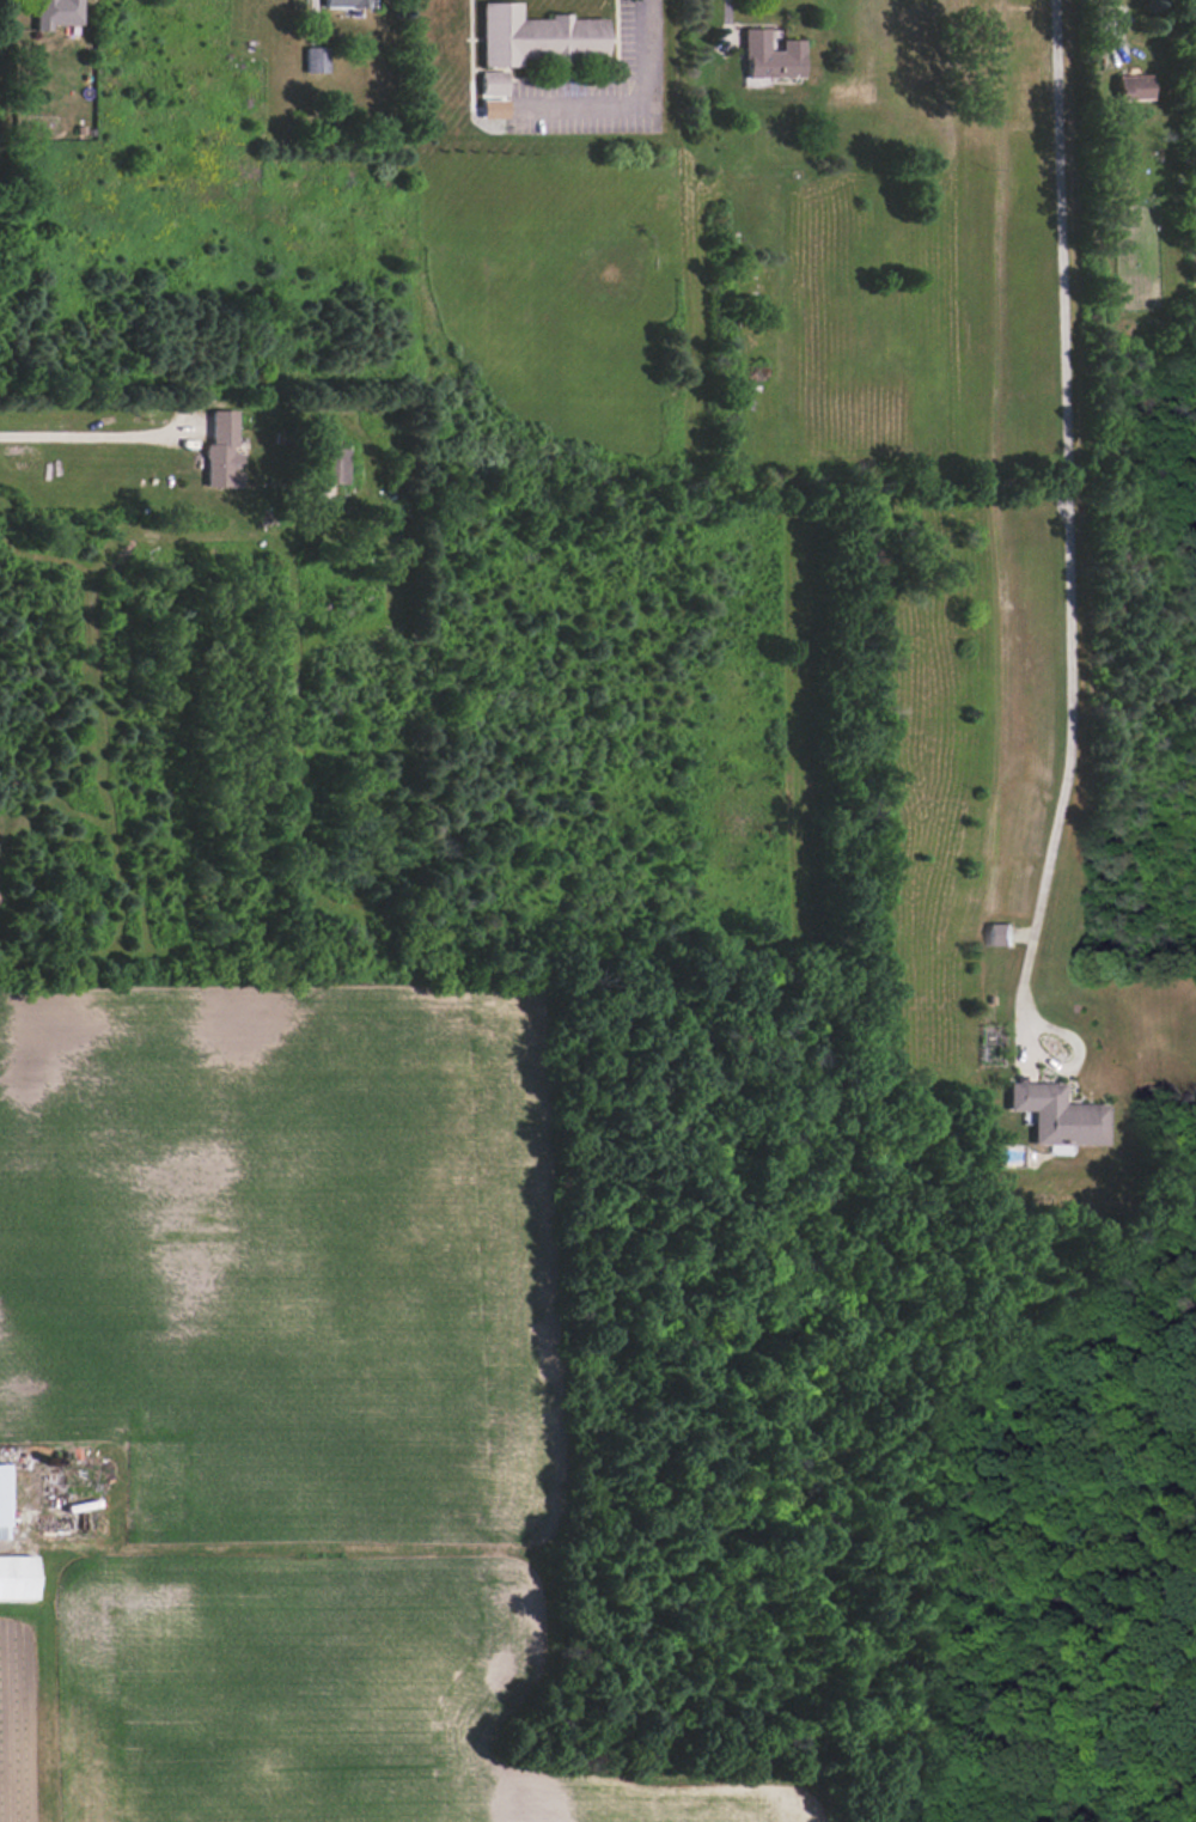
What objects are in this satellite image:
building: (348, 2)
building: (56, 13)
road: (1104, 13)
road: (724, 18)
building: (536, 36)
building: (771, 56)
building: (316, 59)
building: (1133, 86)
building: (493, 95)
road: (627, 105)
road: (79, 433)
building: (222, 451)
building: (331, 465)
road: (1064, 530)
building: (999, 933)
building: (1057, 1115)
building: (4, 1498)
building: (17, 1577)

